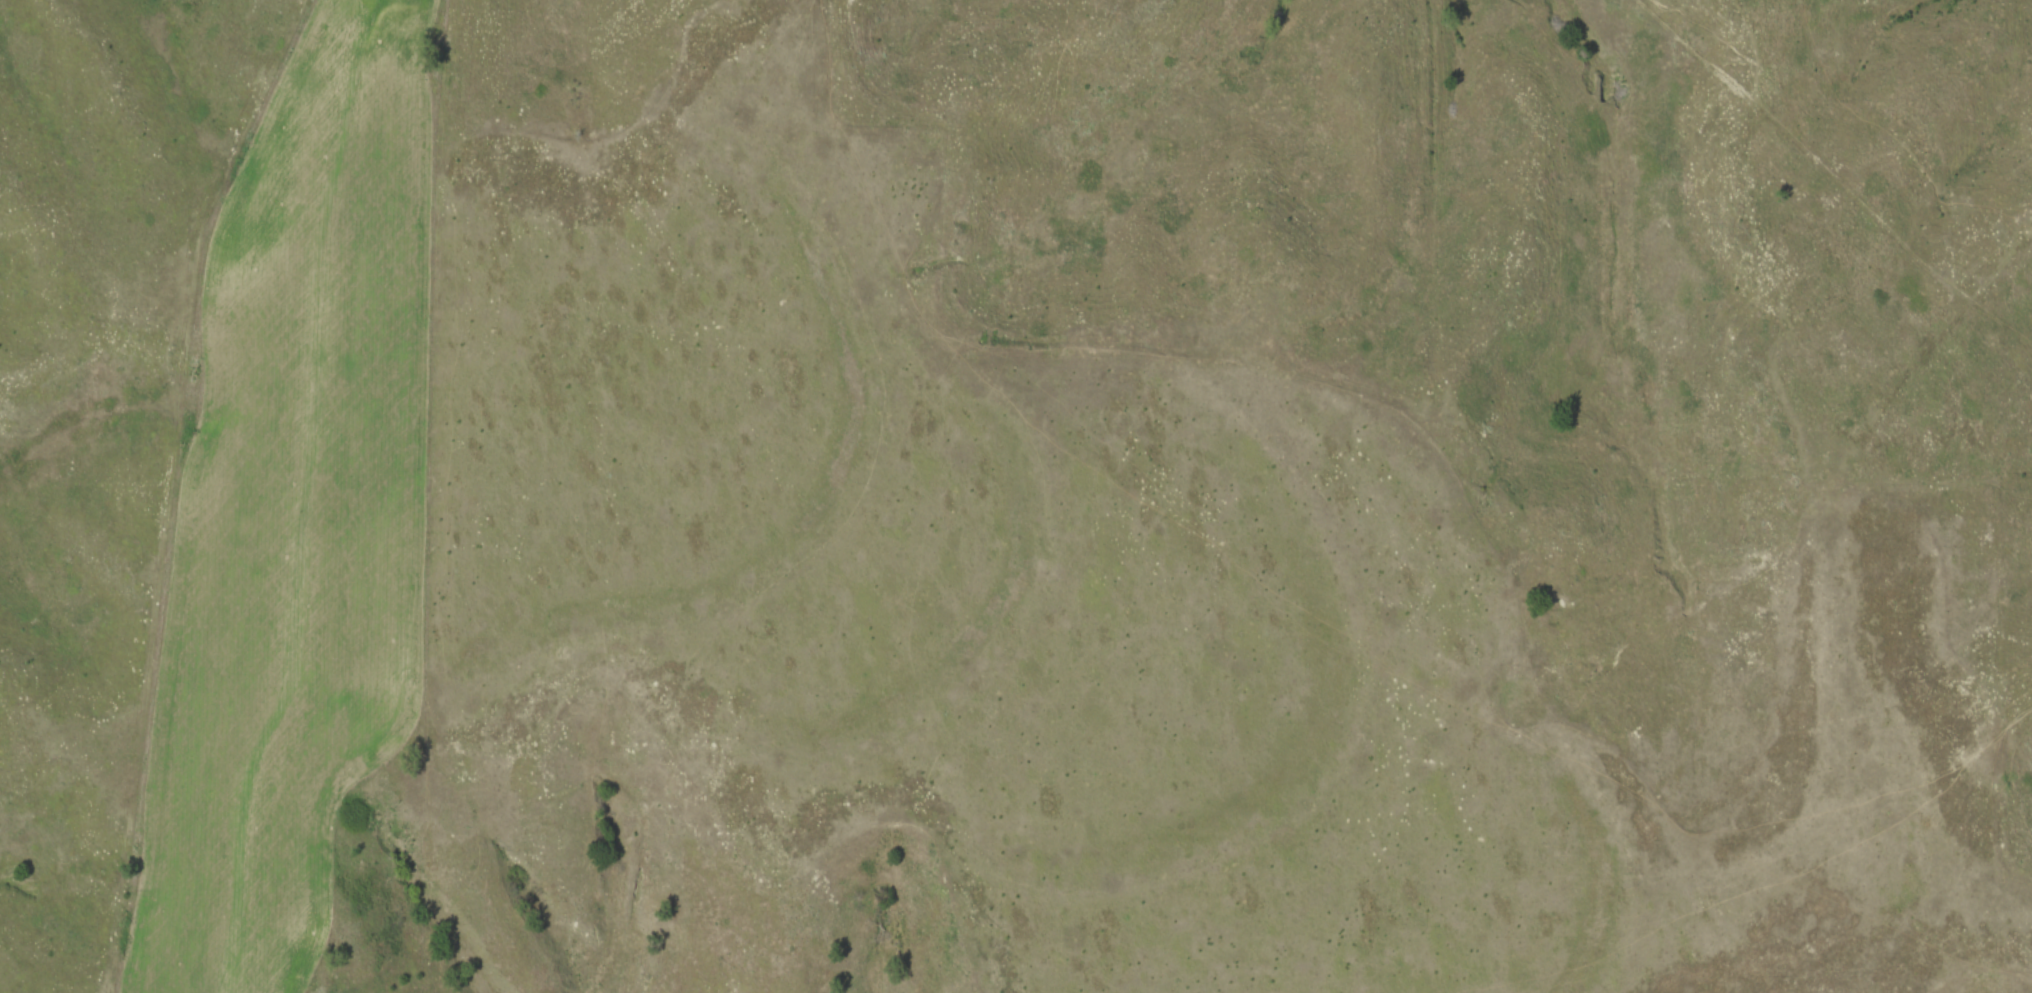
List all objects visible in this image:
crop: (297, 523)

